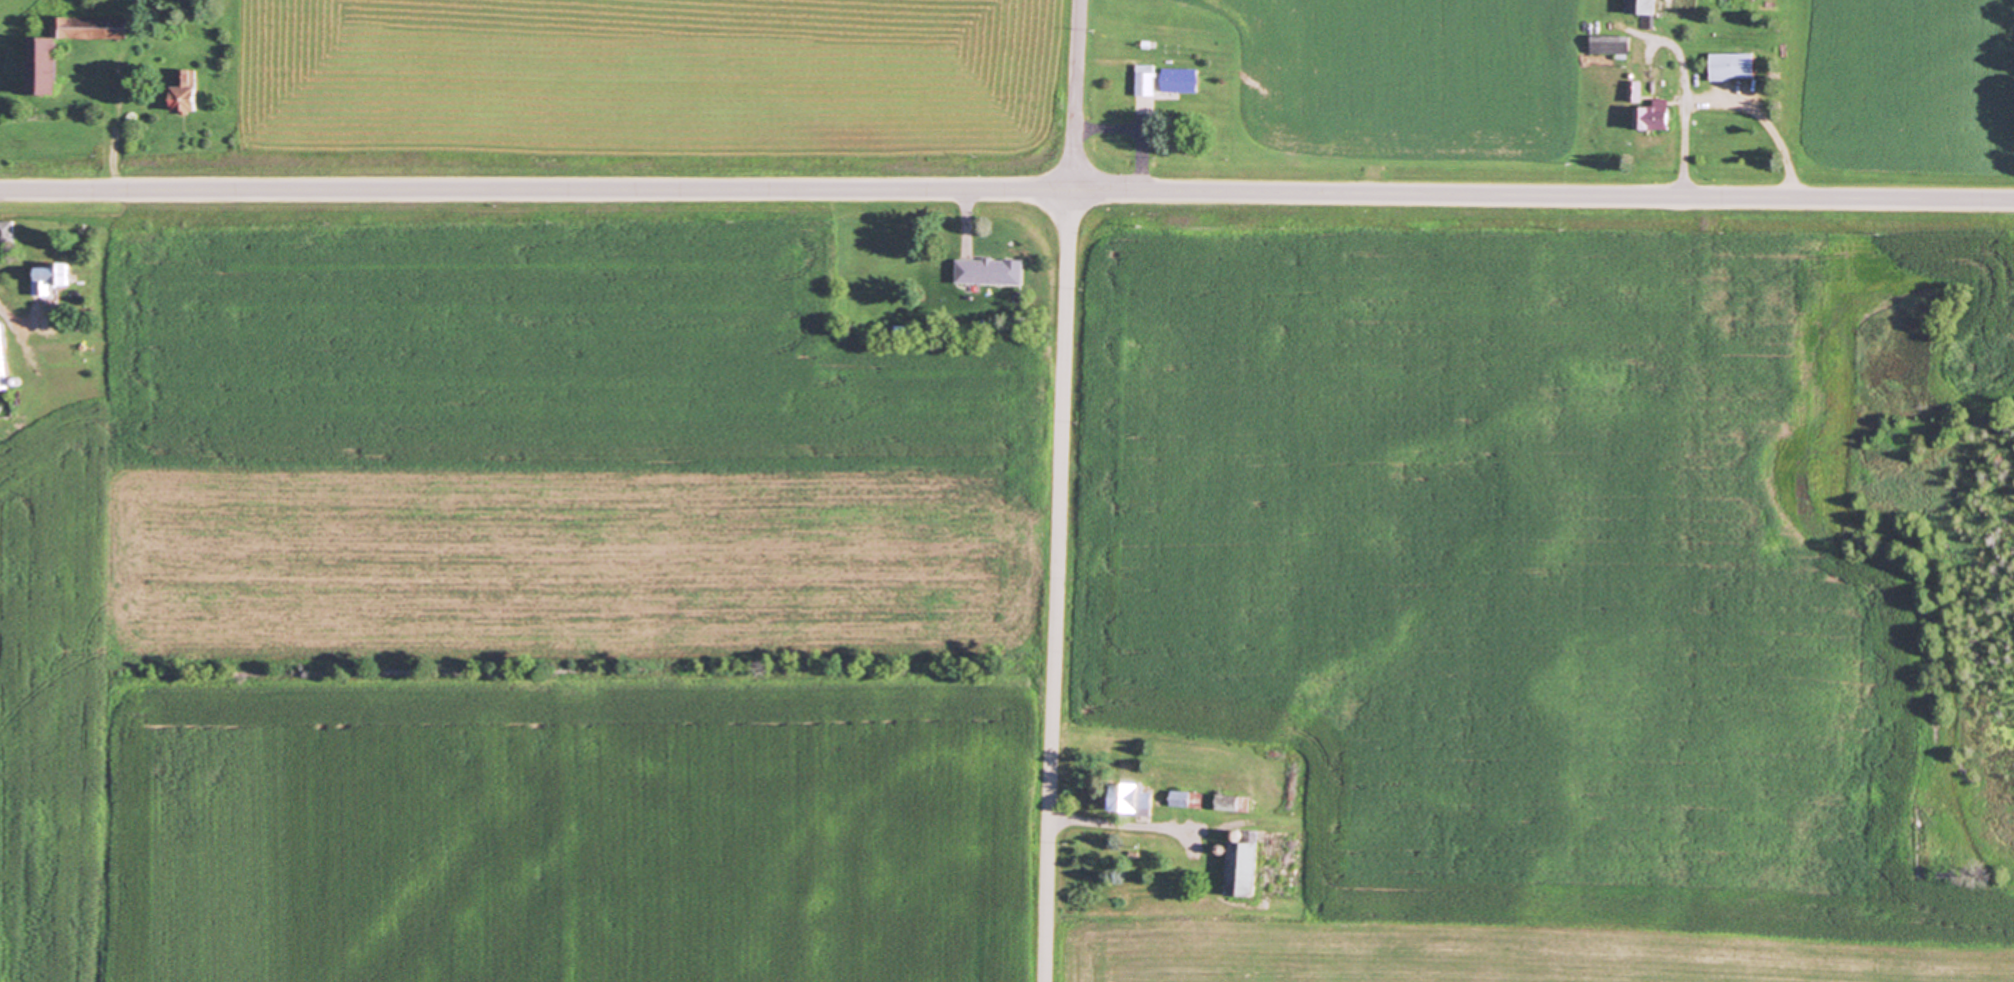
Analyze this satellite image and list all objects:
building: (1638, 10)
building: (1607, 45)
building: (47, 64)
building: (1729, 67)
building: (1147, 78)
building: (1185, 78)
building: (188, 89)
road: (1072, 94)
road: (1687, 111)
building: (1647, 118)
road: (1766, 120)
road: (116, 129)
road: (1144, 155)
road: (1007, 188)
road: (965, 212)
building: (8, 231)
building: (985, 270)
building: (52, 276)
road: (7, 313)
building: (5, 358)
road: (1054, 584)
building: (1138, 798)
road: (1119, 821)
building: (1252, 868)

